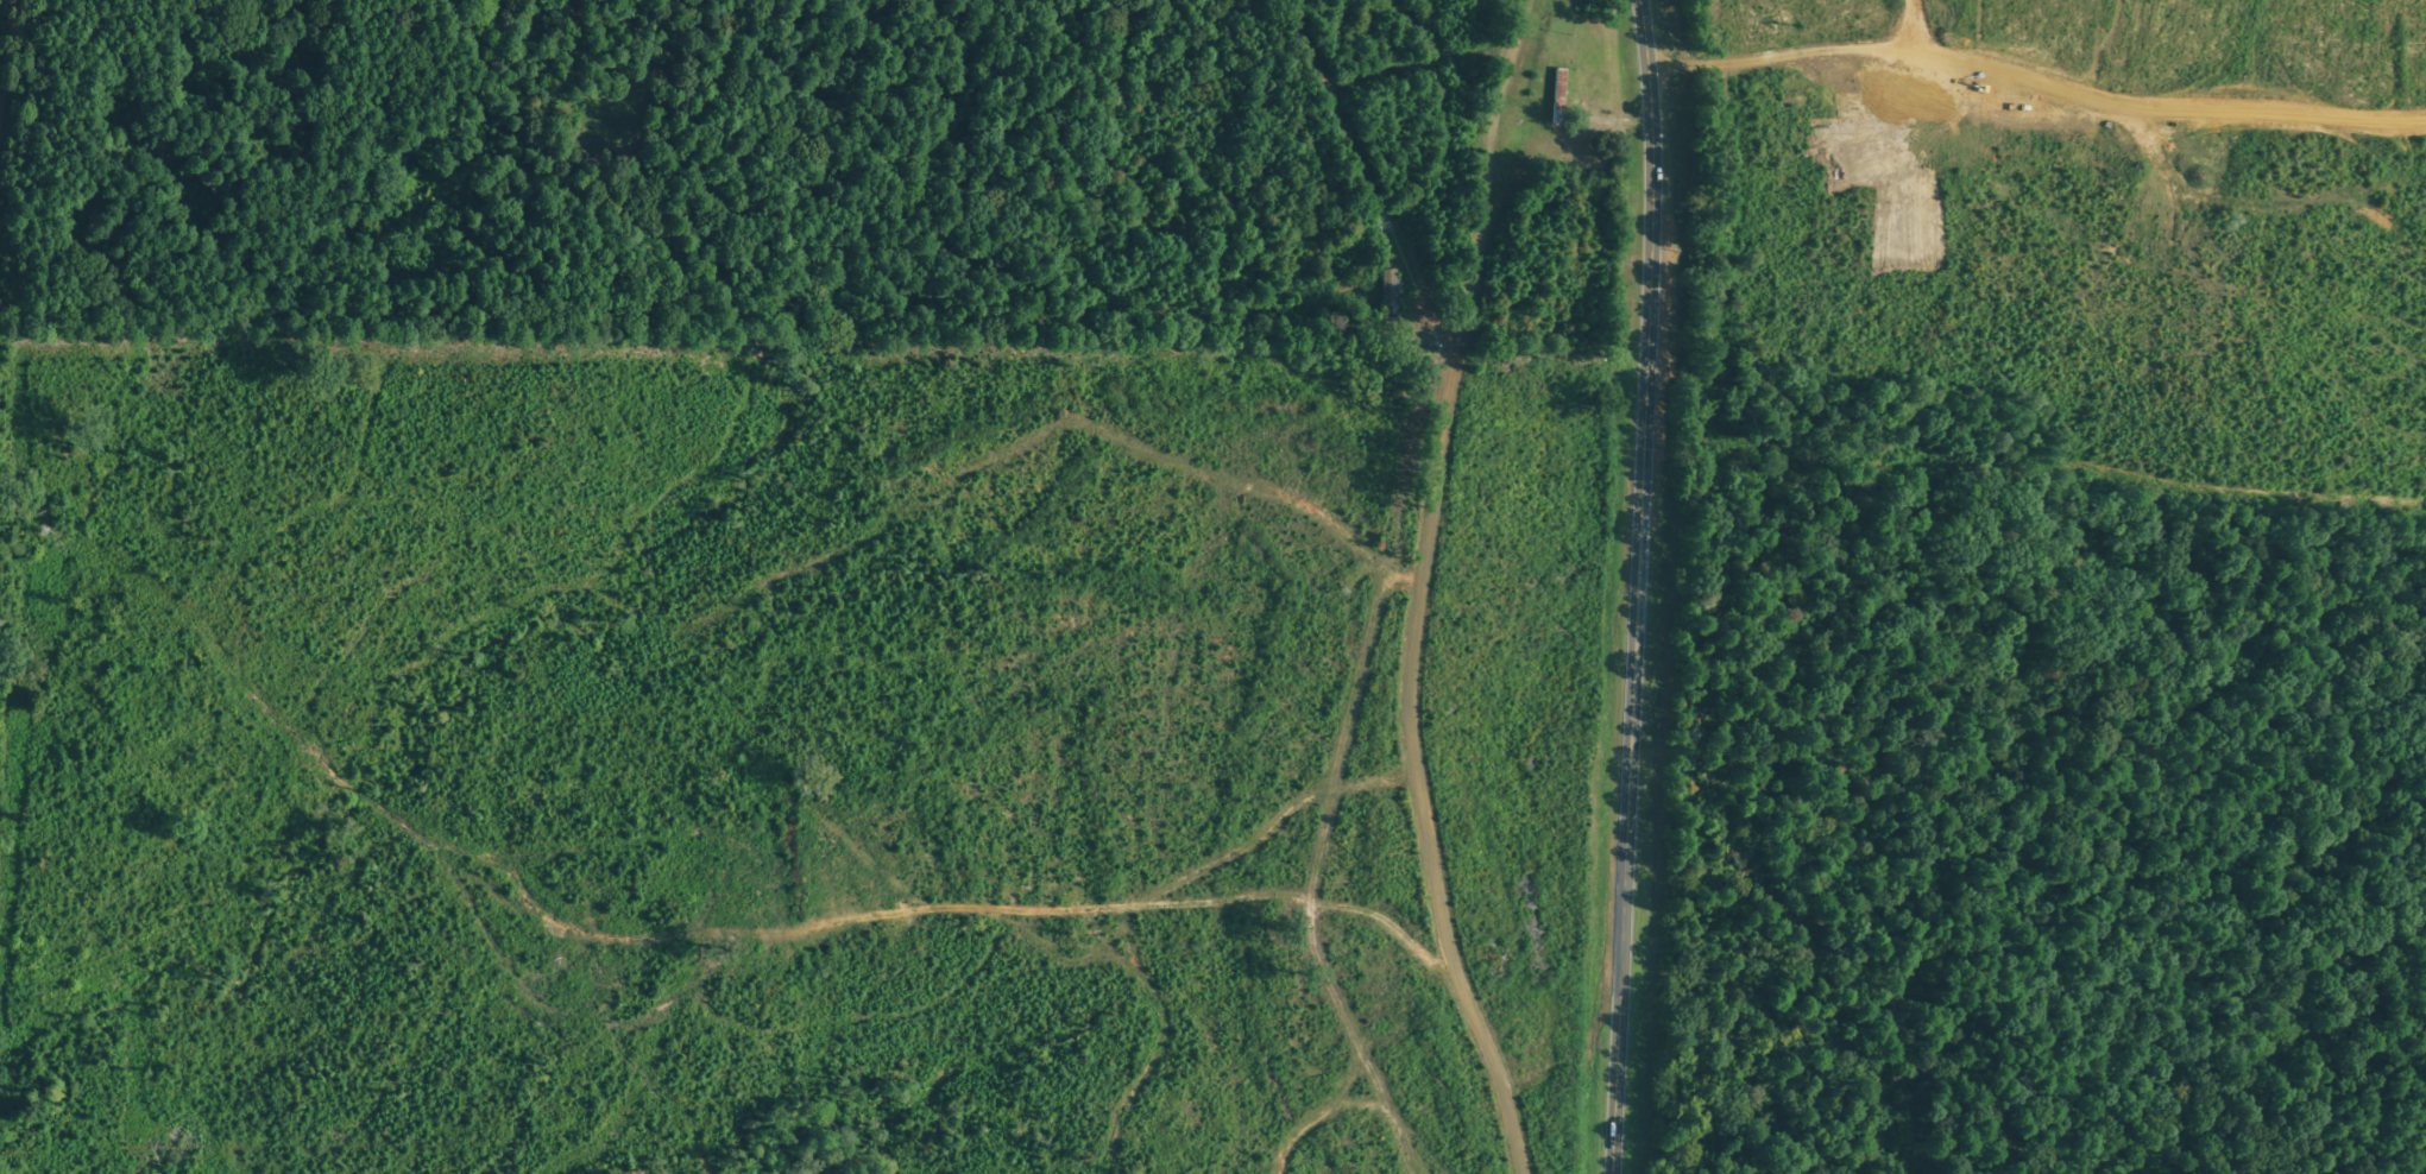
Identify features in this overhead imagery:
building: (1562, 89)
road: (1638, 586)
road: (1325, 589)

